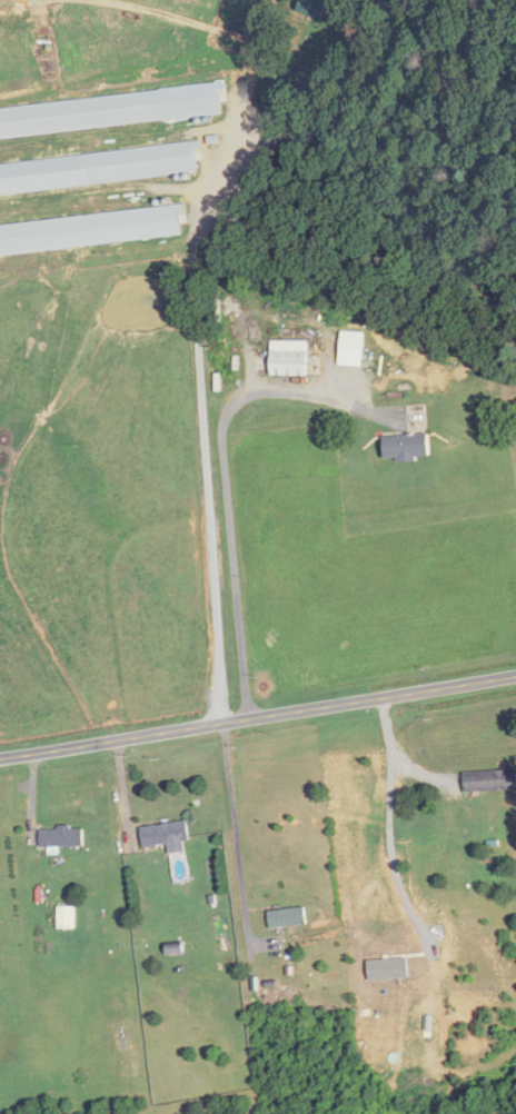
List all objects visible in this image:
building: (312, 7)
building: (100, 141)
building: (92, 231)
building: (290, 358)
building: (406, 446)
road: (226, 473)
road: (208, 494)
road: (258, 716)
building: (489, 780)
road: (389, 823)
road: (235, 828)
building: (167, 835)
building: (62, 838)
building: (287, 917)

